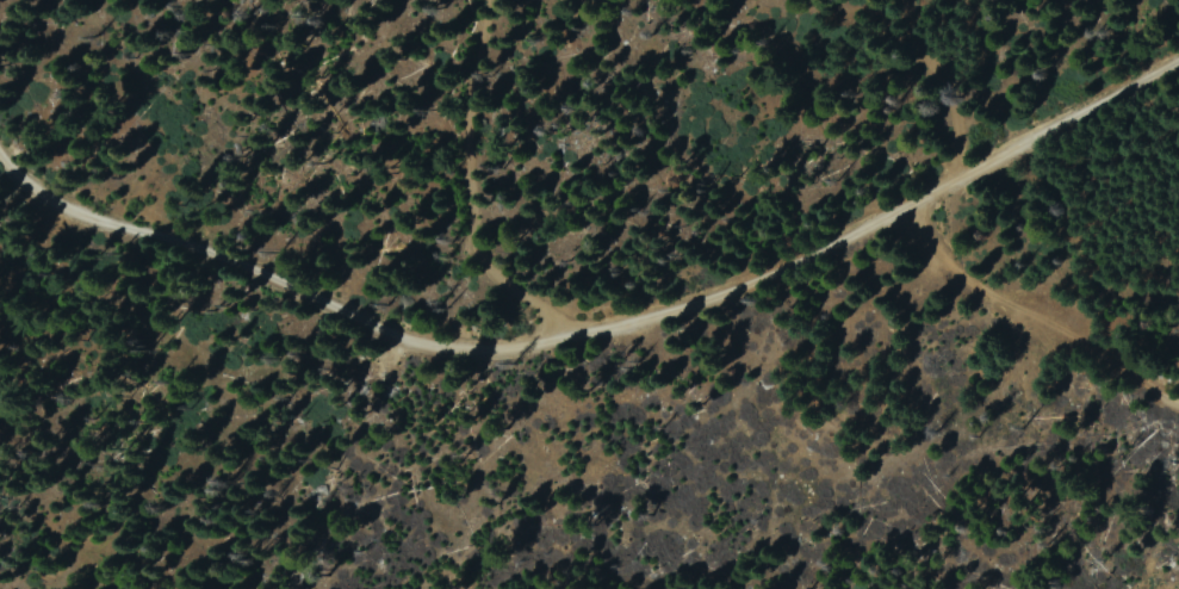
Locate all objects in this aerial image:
road: (1029, 324)
road: (598, 328)

